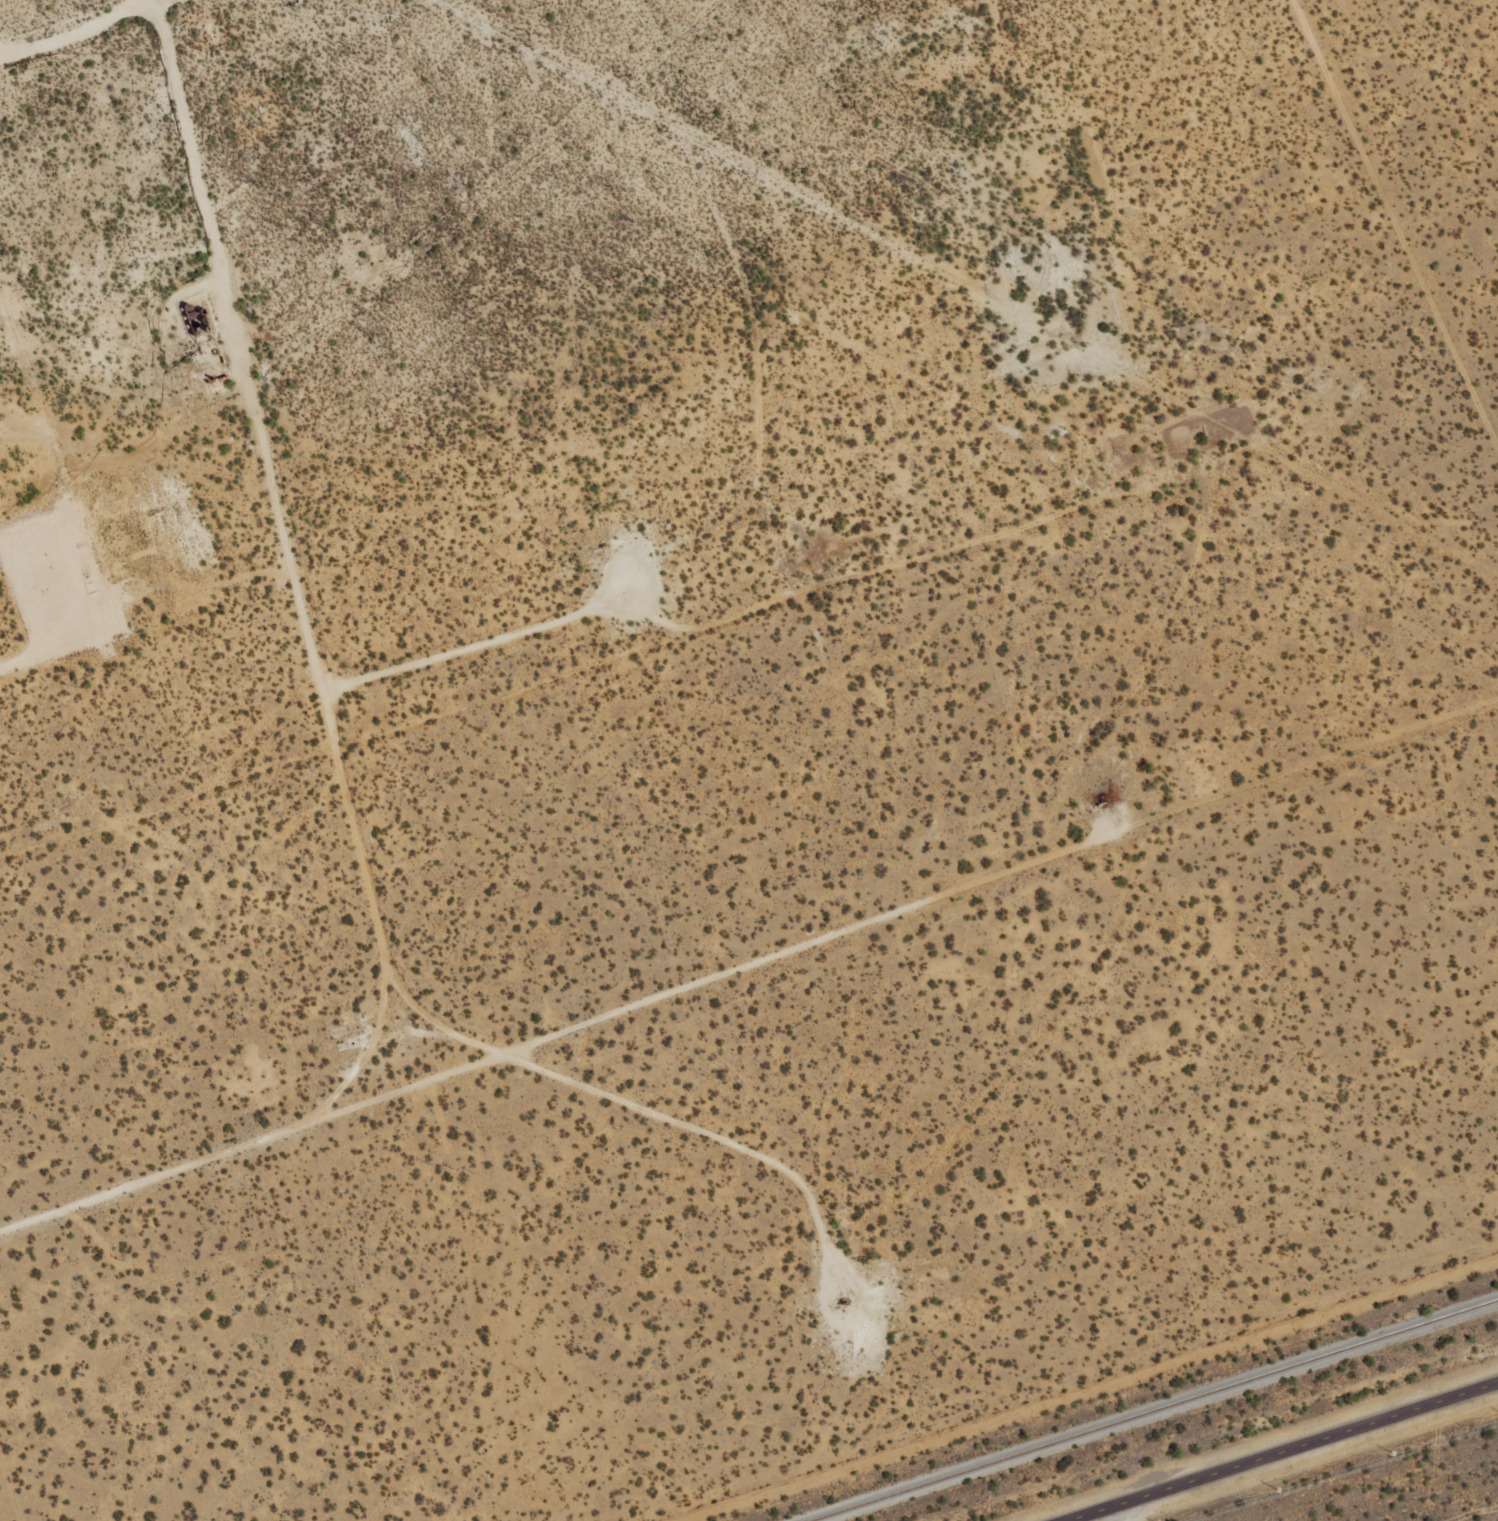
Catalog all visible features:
road: (85, 24)
road: (1361, 281)
road: (240, 558)
road: (914, 703)
road: (151, 825)
road: (751, 971)
road: (791, 1135)
railway: (1153, 1410)
road: (1281, 1451)
road: (1119, 1513)

